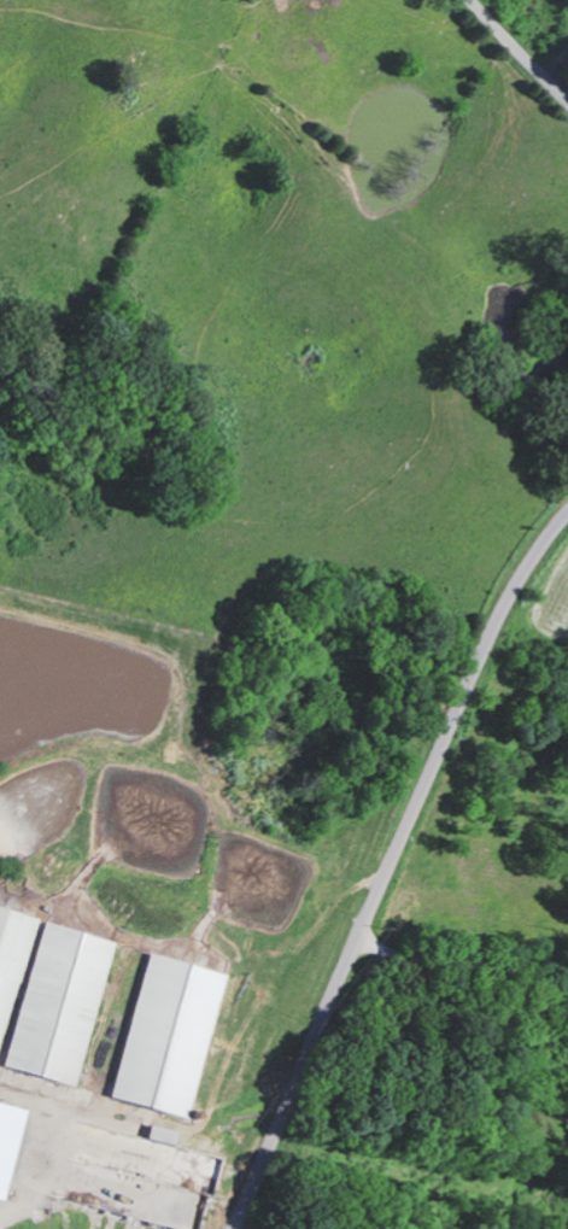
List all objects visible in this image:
road: (514, 57)
road: (390, 867)
road: (463, 954)
building: (11, 955)
building: (57, 1002)
building: (164, 1034)
building: (162, 1180)

